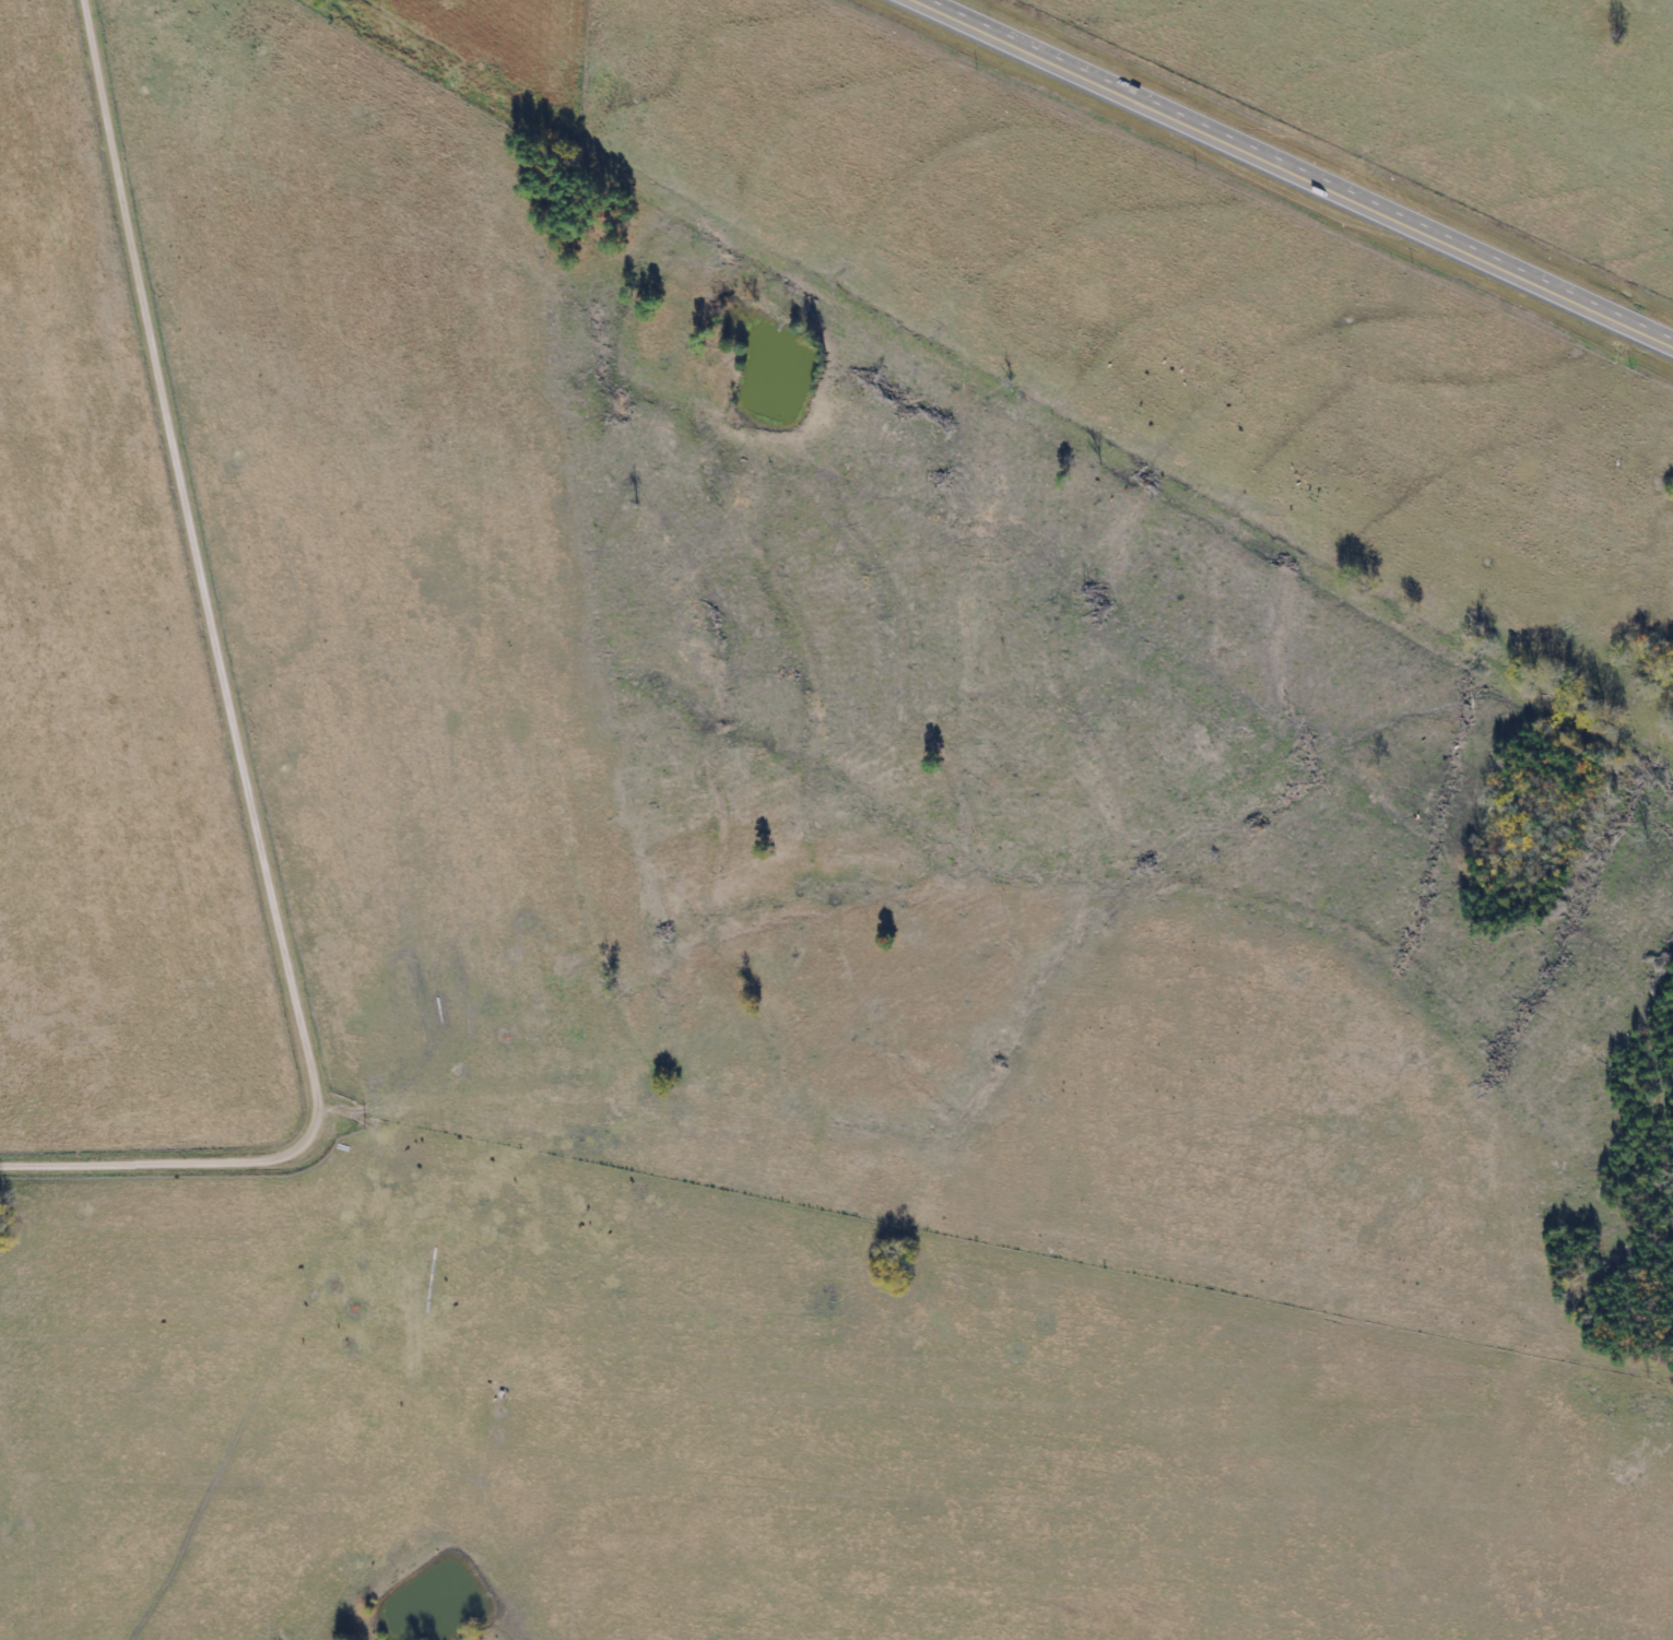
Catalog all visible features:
road: (1300, 167)
road: (241, 731)

